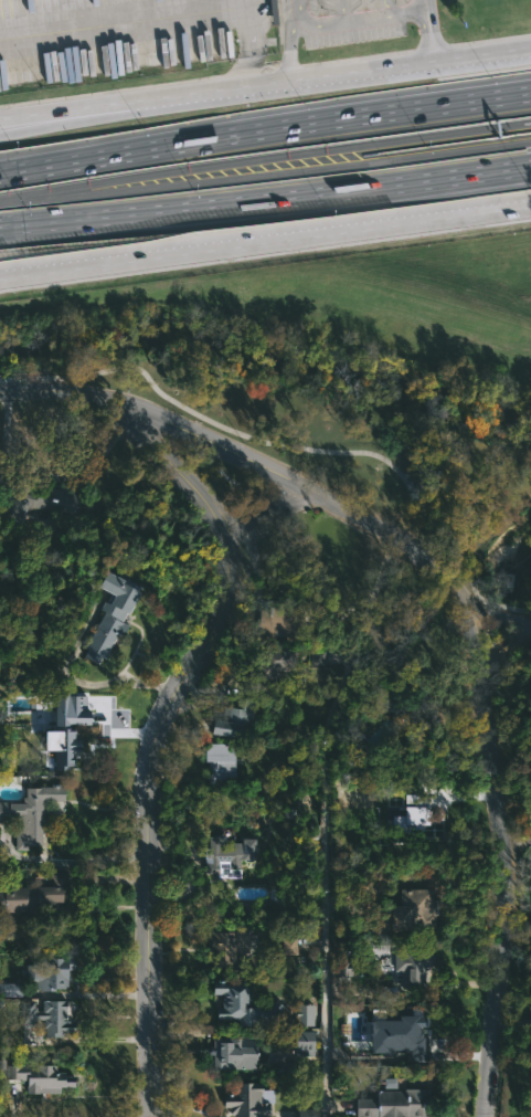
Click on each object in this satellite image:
road: (426, 6)
road: (177, 15)
road: (350, 20)
road: (431, 35)
road: (289, 51)
road: (265, 83)
road: (352, 114)
road: (57, 119)
road: (444, 130)
road: (4, 133)
road: (529, 137)
road: (444, 149)
road: (87, 156)
road: (528, 164)
road: (221, 165)
road: (223, 173)
road: (42, 191)
road: (263, 198)
road: (265, 241)
park: (340, 376)
road: (295, 445)
road: (36, 473)
road: (283, 473)
building: (40, 500)
road: (265, 512)
road: (373, 583)
building: (327, 615)
building: (120, 621)
building: (282, 624)
building: (270, 663)
road: (182, 679)
building: (413, 687)
road: (489, 702)
building: (373, 703)
building: (232, 718)
building: (63, 728)
building: (217, 762)
road: (517, 798)
building: (412, 814)
building: (28, 815)
road: (519, 840)
building: (225, 856)
road: (72, 862)
building: (31, 900)
building: (412, 908)
road: (325, 939)
building: (288, 946)
building: (224, 951)
road: (505, 958)
building: (343, 968)
building: (413, 971)
building: (41, 976)
building: (244, 1005)
building: (304, 1014)
building: (49, 1016)
road: (514, 1022)
building: (376, 1026)
building: (300, 1044)
building: (231, 1053)
building: (40, 1077)
building: (245, 1100)
building: (391, 1104)
building: (307, 1113)

